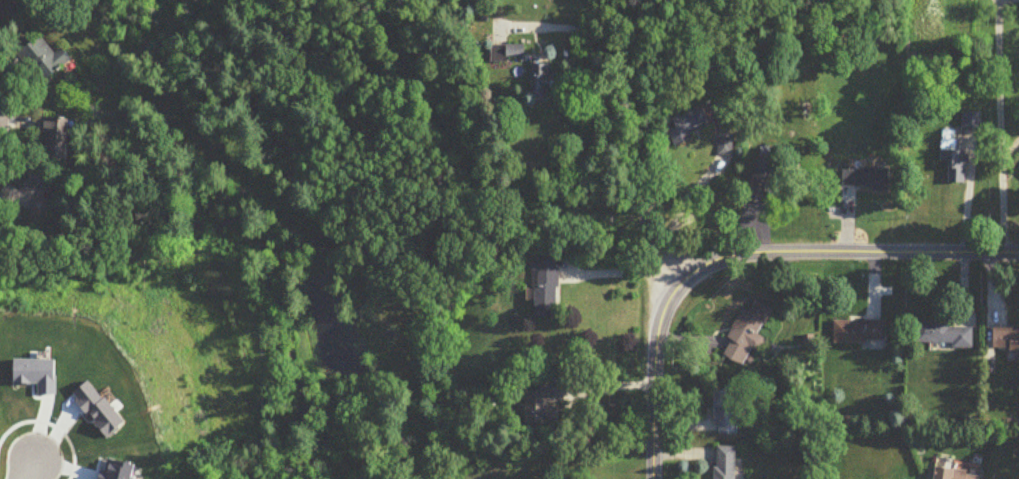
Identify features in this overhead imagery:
building: (509, 54)
building: (46, 59)
building: (543, 84)
building: (971, 123)
road: (999, 126)
building: (688, 127)
road: (639, 129)
building: (58, 133)
building: (725, 147)
building: (953, 162)
building: (766, 179)
building: (866, 179)
building: (29, 195)
road: (680, 208)
road: (746, 255)
building: (547, 287)
building: (860, 332)
building: (748, 335)
building: (943, 335)
building: (1006, 341)
building: (545, 406)
building: (727, 413)
building: (725, 463)
road: (23, 472)
building: (956, 475)

